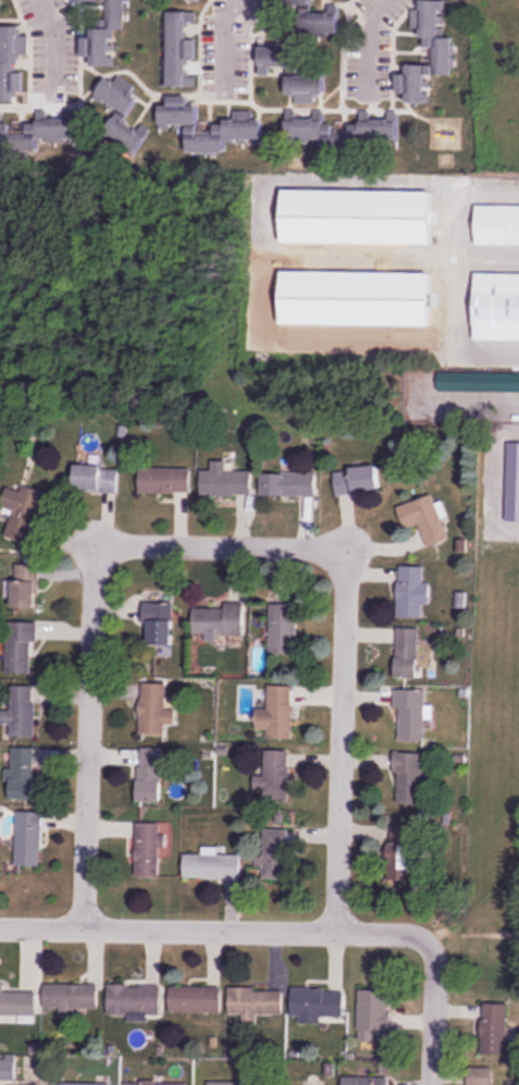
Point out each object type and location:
building: (88, 1)
building: (312, 17)
building: (103, 35)
road: (366, 41)
road: (226, 42)
road: (52, 48)
building: (182, 50)
building: (444, 52)
building: (11, 61)
building: (292, 74)
building: (122, 114)
building: (238, 126)
building: (36, 132)
building: (345, 134)
road: (460, 199)
building: (497, 225)
road: (458, 305)
building: (496, 307)
building: (472, 382)
road: (470, 406)
building: (96, 478)
building: (164, 480)
building: (357, 480)
building: (225, 481)
building: (288, 483)
building: (24, 513)
building: (424, 518)
road: (218, 544)
building: (26, 585)
building: (412, 591)
building: (220, 620)
building: (160, 621)
building: (282, 628)
building: (20, 646)
building: (408, 652)
building: (156, 710)
building: (21, 711)
building: (277, 713)
building: (411, 714)
road: (87, 737)
road: (342, 739)
building: (22, 773)
building: (274, 773)
building: (150, 774)
building: (409, 778)
building: (27, 839)
building: (148, 849)
building: (272, 858)
building: (212, 866)
road: (213, 930)
building: (70, 998)
building: (134, 999)
building: (195, 999)
building: (16, 1002)
building: (254, 1003)
building: (318, 1004)
building: (373, 1010)
road: (433, 1011)
building: (495, 1028)
building: (480, 1075)
building: (366, 1081)
building: (234, 1082)
building: (155, 1083)
building: (85, 1084)

